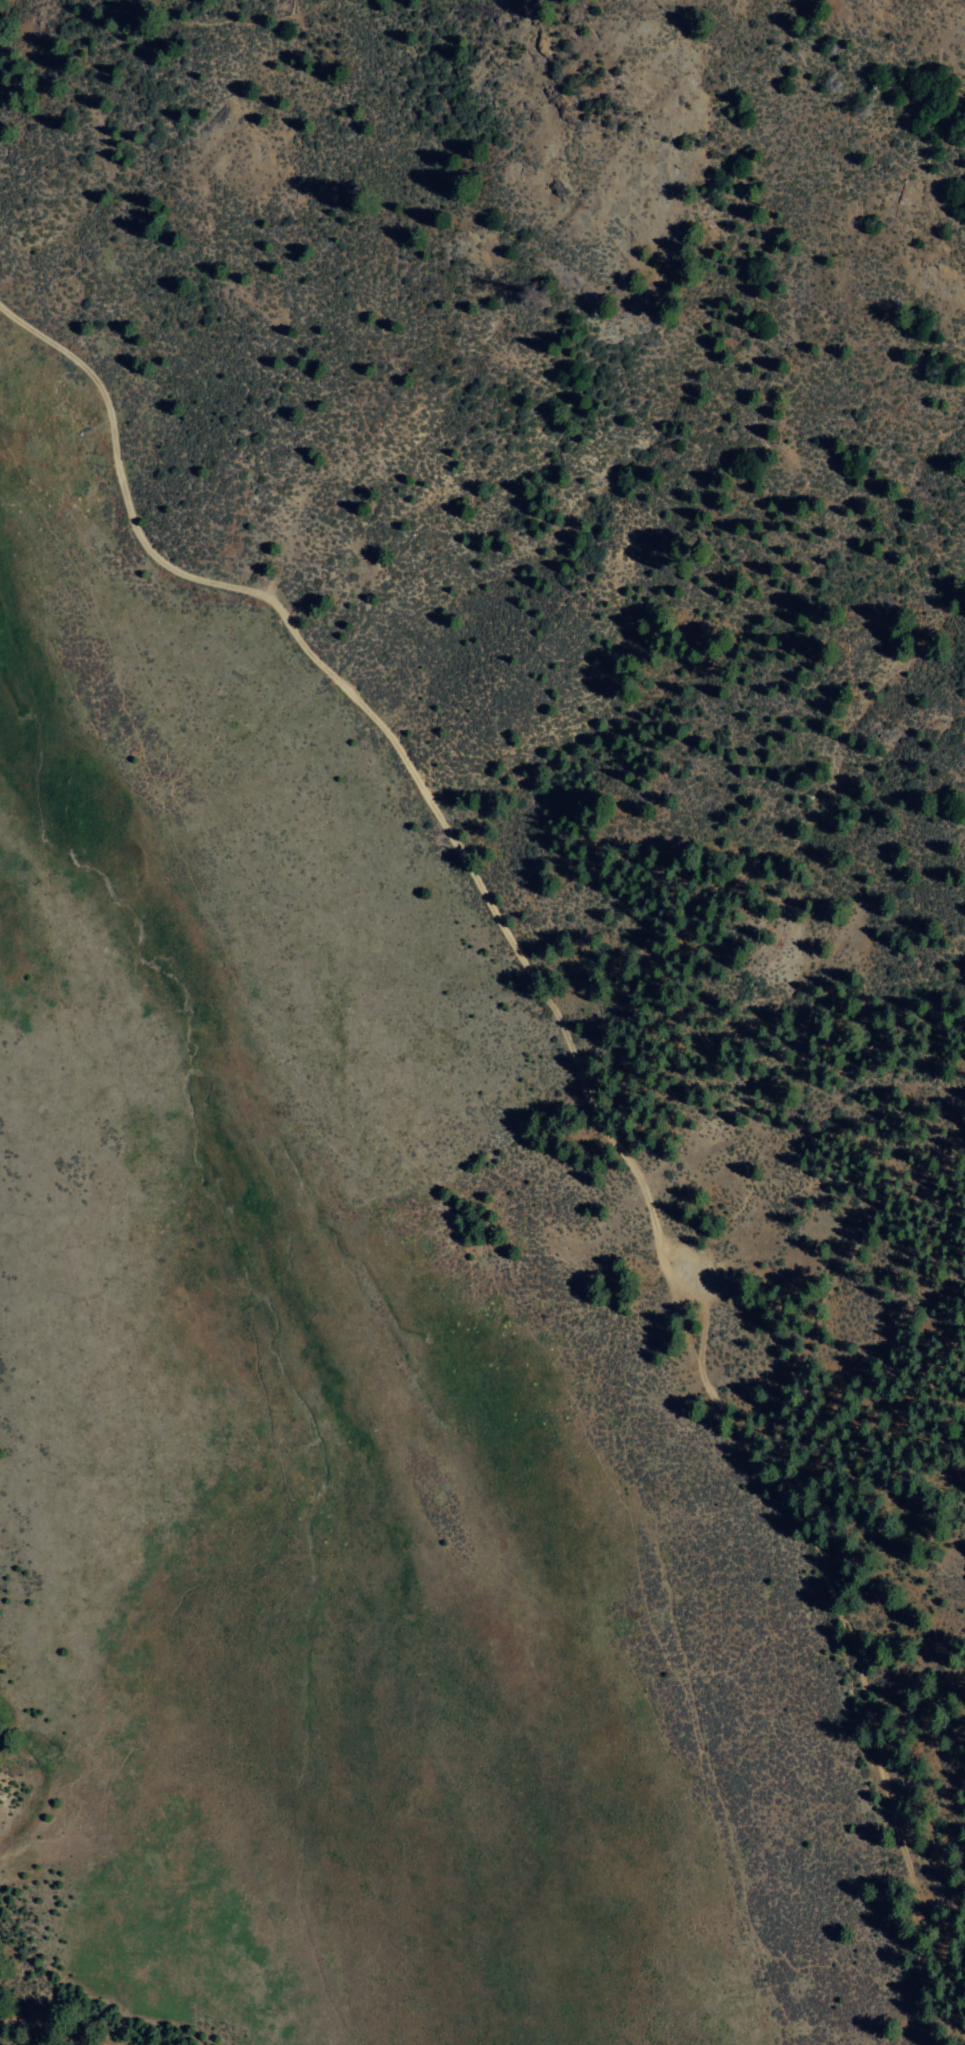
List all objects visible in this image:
road: (580, 1095)
road: (71, 2005)

